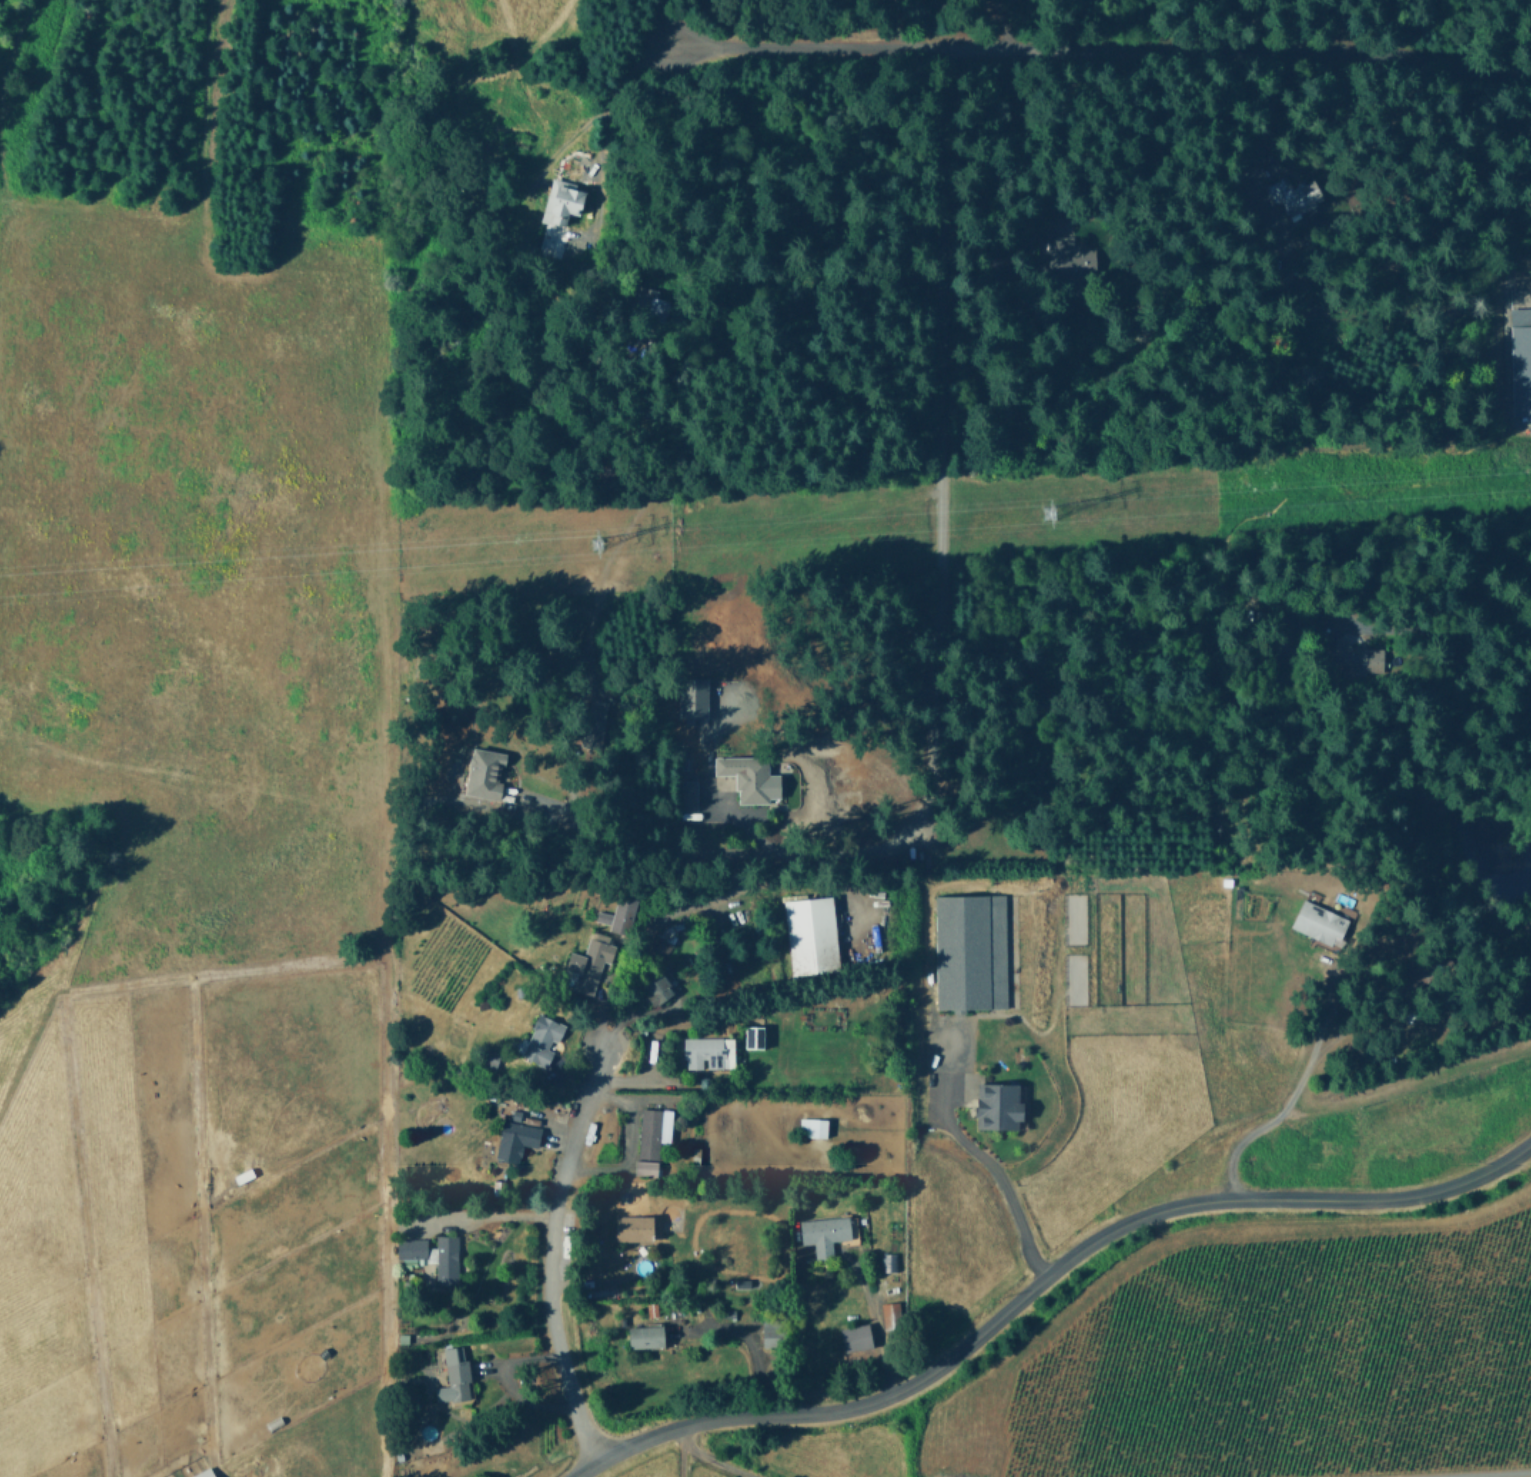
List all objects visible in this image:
road: (996, 24)
road: (1246, 24)
road: (1100, 48)
road: (609, 98)
building: (1296, 194)
building: (560, 202)
building: (1521, 360)
power tower: (1051, 517)
road: (941, 528)
power tower: (598, 545)
road: (1448, 612)
building: (692, 696)
building: (483, 772)
building: (749, 777)
building: (618, 914)
building: (1318, 921)
building: (812, 934)
building: (662, 945)
building: (970, 951)
building: (588, 962)
building: (656, 989)
building: (755, 1036)
building: (540, 1040)
building: (710, 1052)
road: (1288, 1091)
building: (996, 1105)
building: (813, 1126)
building: (654, 1130)
building: (514, 1137)
building: (645, 1167)
road: (1004, 1188)
road: (488, 1217)
building: (632, 1227)
building: (826, 1232)
building: (410, 1247)
road: (548, 1257)
building: (891, 1261)
building: (445, 1262)
road: (1040, 1278)
building: (892, 1312)
road: (875, 1317)
road: (796, 1331)
building: (644, 1336)
building: (856, 1337)
building: (453, 1376)
road: (680, 1451)
road: (716, 1460)
building: (204, 1474)
road: (1510, 1475)

